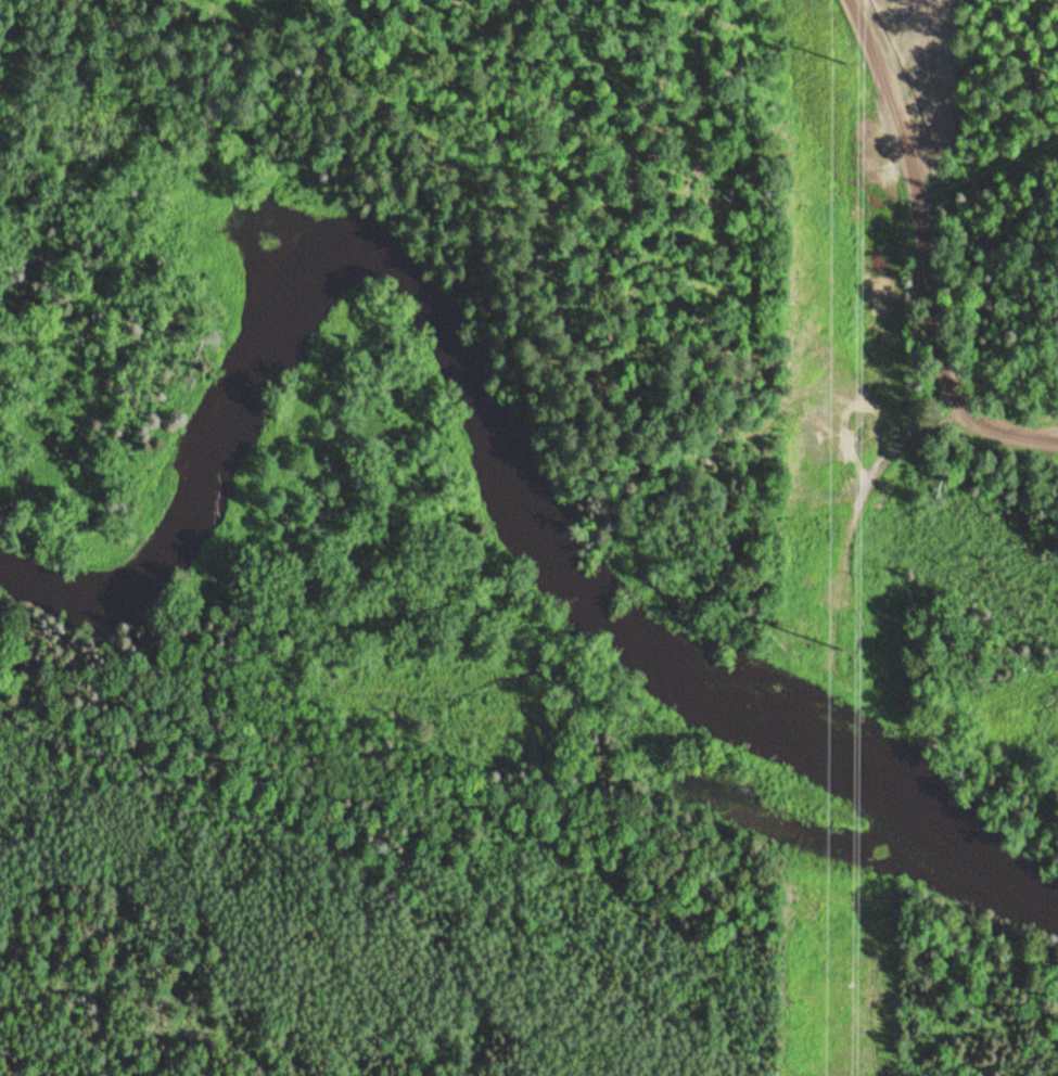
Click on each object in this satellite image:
power tower: (847, 61)
road: (931, 253)
river: (506, 390)
power tower: (841, 652)

